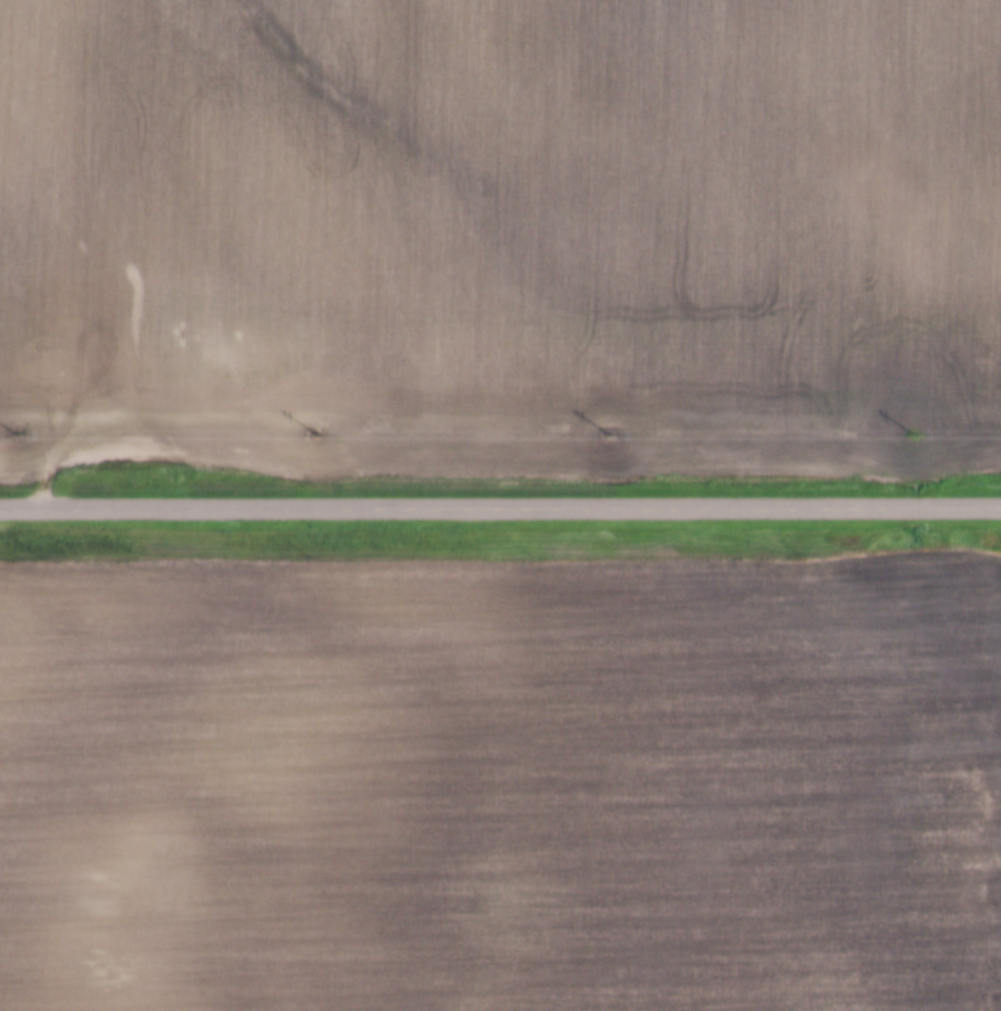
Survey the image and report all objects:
road: (500, 506)

